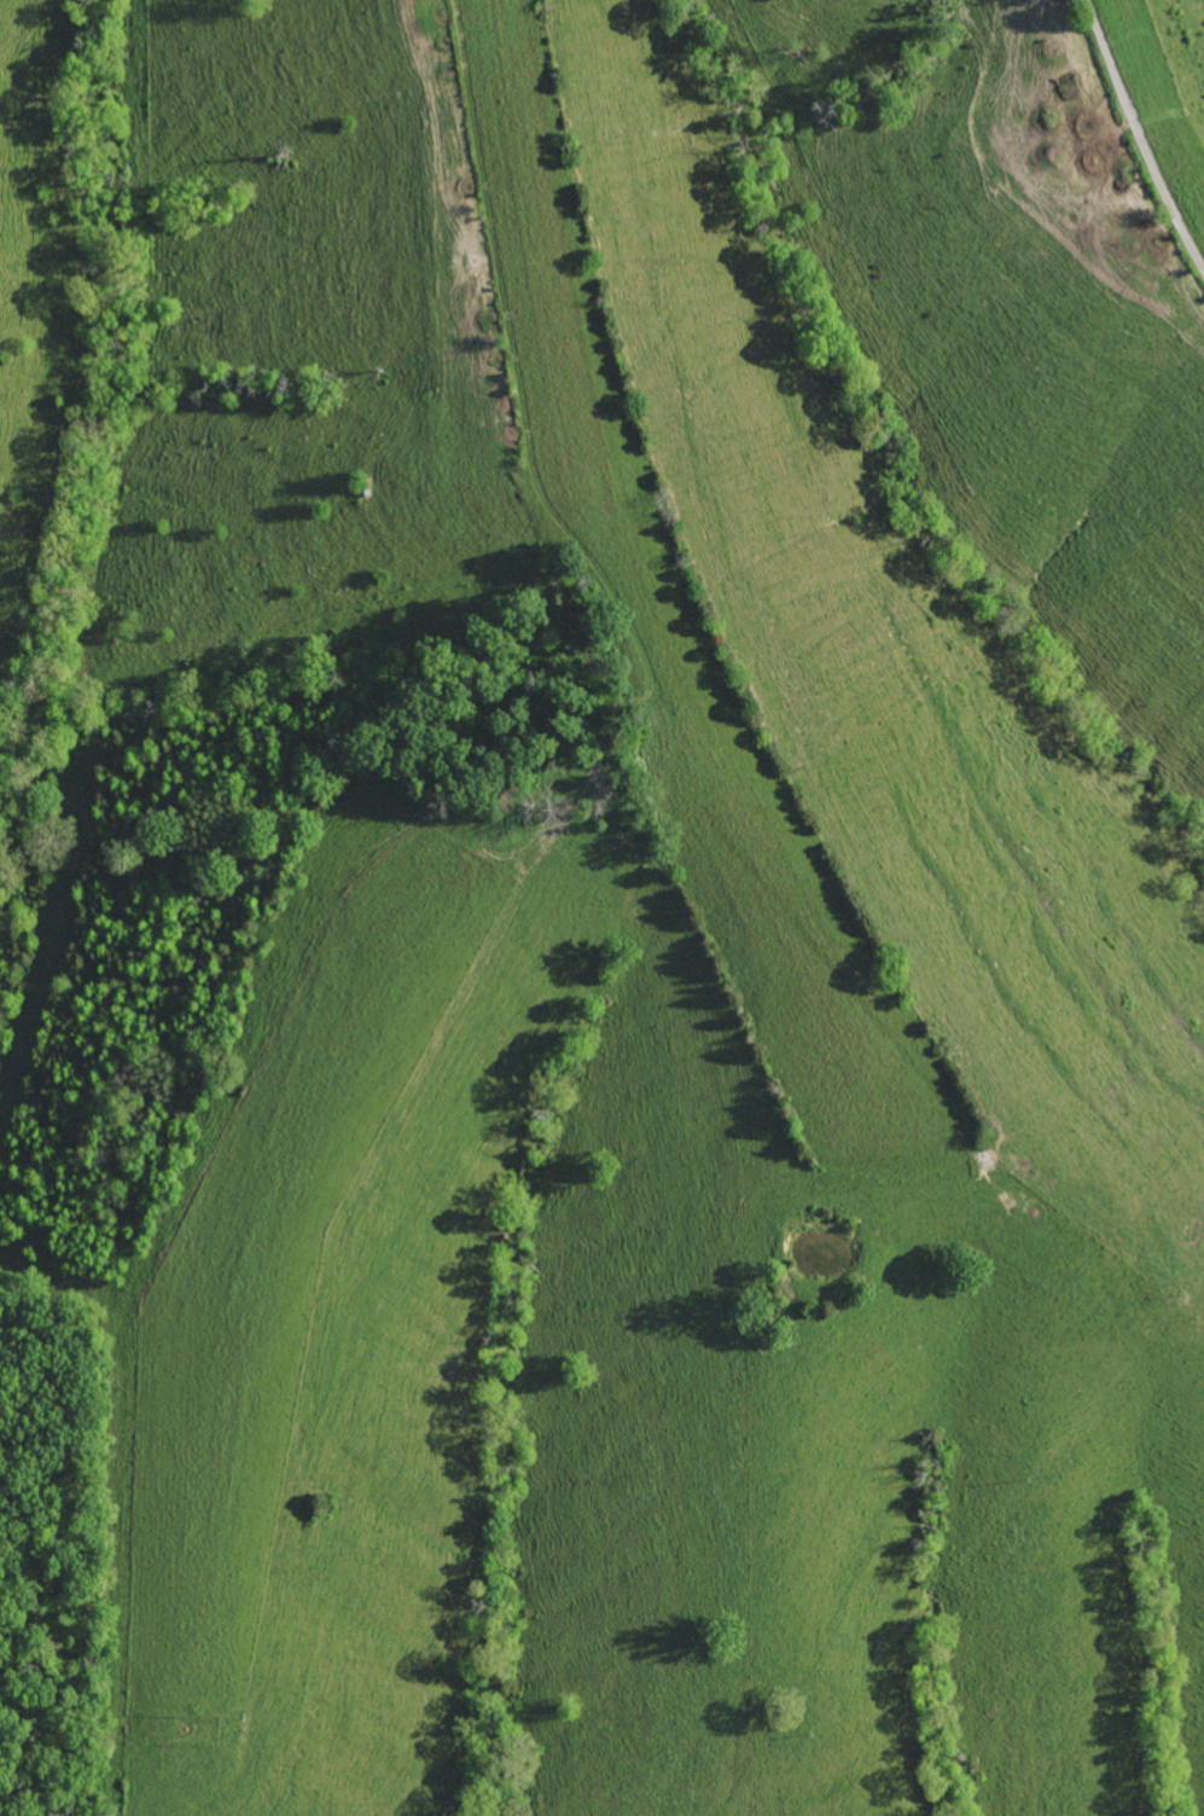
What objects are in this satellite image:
road: (1139, 137)

